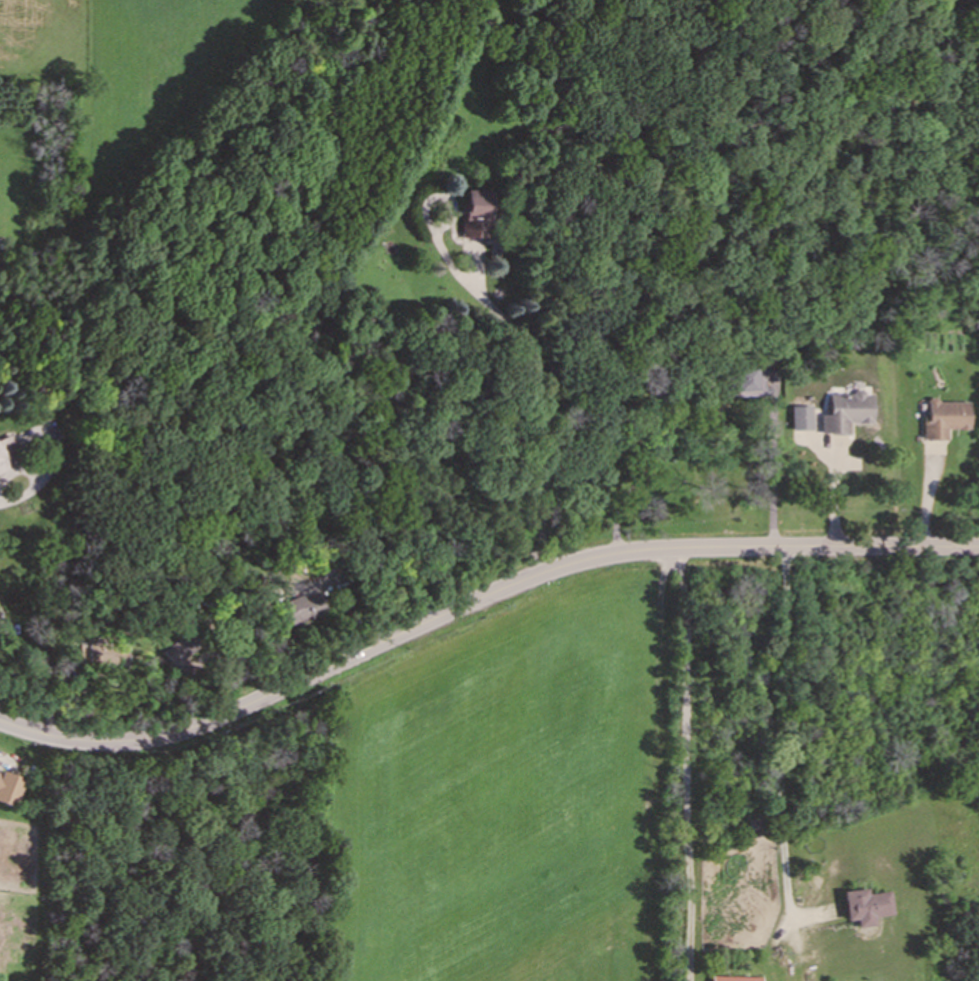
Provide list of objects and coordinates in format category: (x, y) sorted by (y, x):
building: (476, 214)
building: (745, 381)
building: (844, 412)
road: (542, 416)
building: (800, 418)
building: (944, 418)
building: (7, 454)
road: (773, 462)
road: (33, 479)
road: (835, 486)
road: (477, 601)
building: (299, 610)
building: (1, 611)
building: (105, 656)
building: (183, 657)
road: (47, 681)
road: (769, 731)
road: (692, 765)
building: (10, 789)
crop: (490, 796)
building: (866, 906)
crop: (603, 960)
building: (734, 979)

